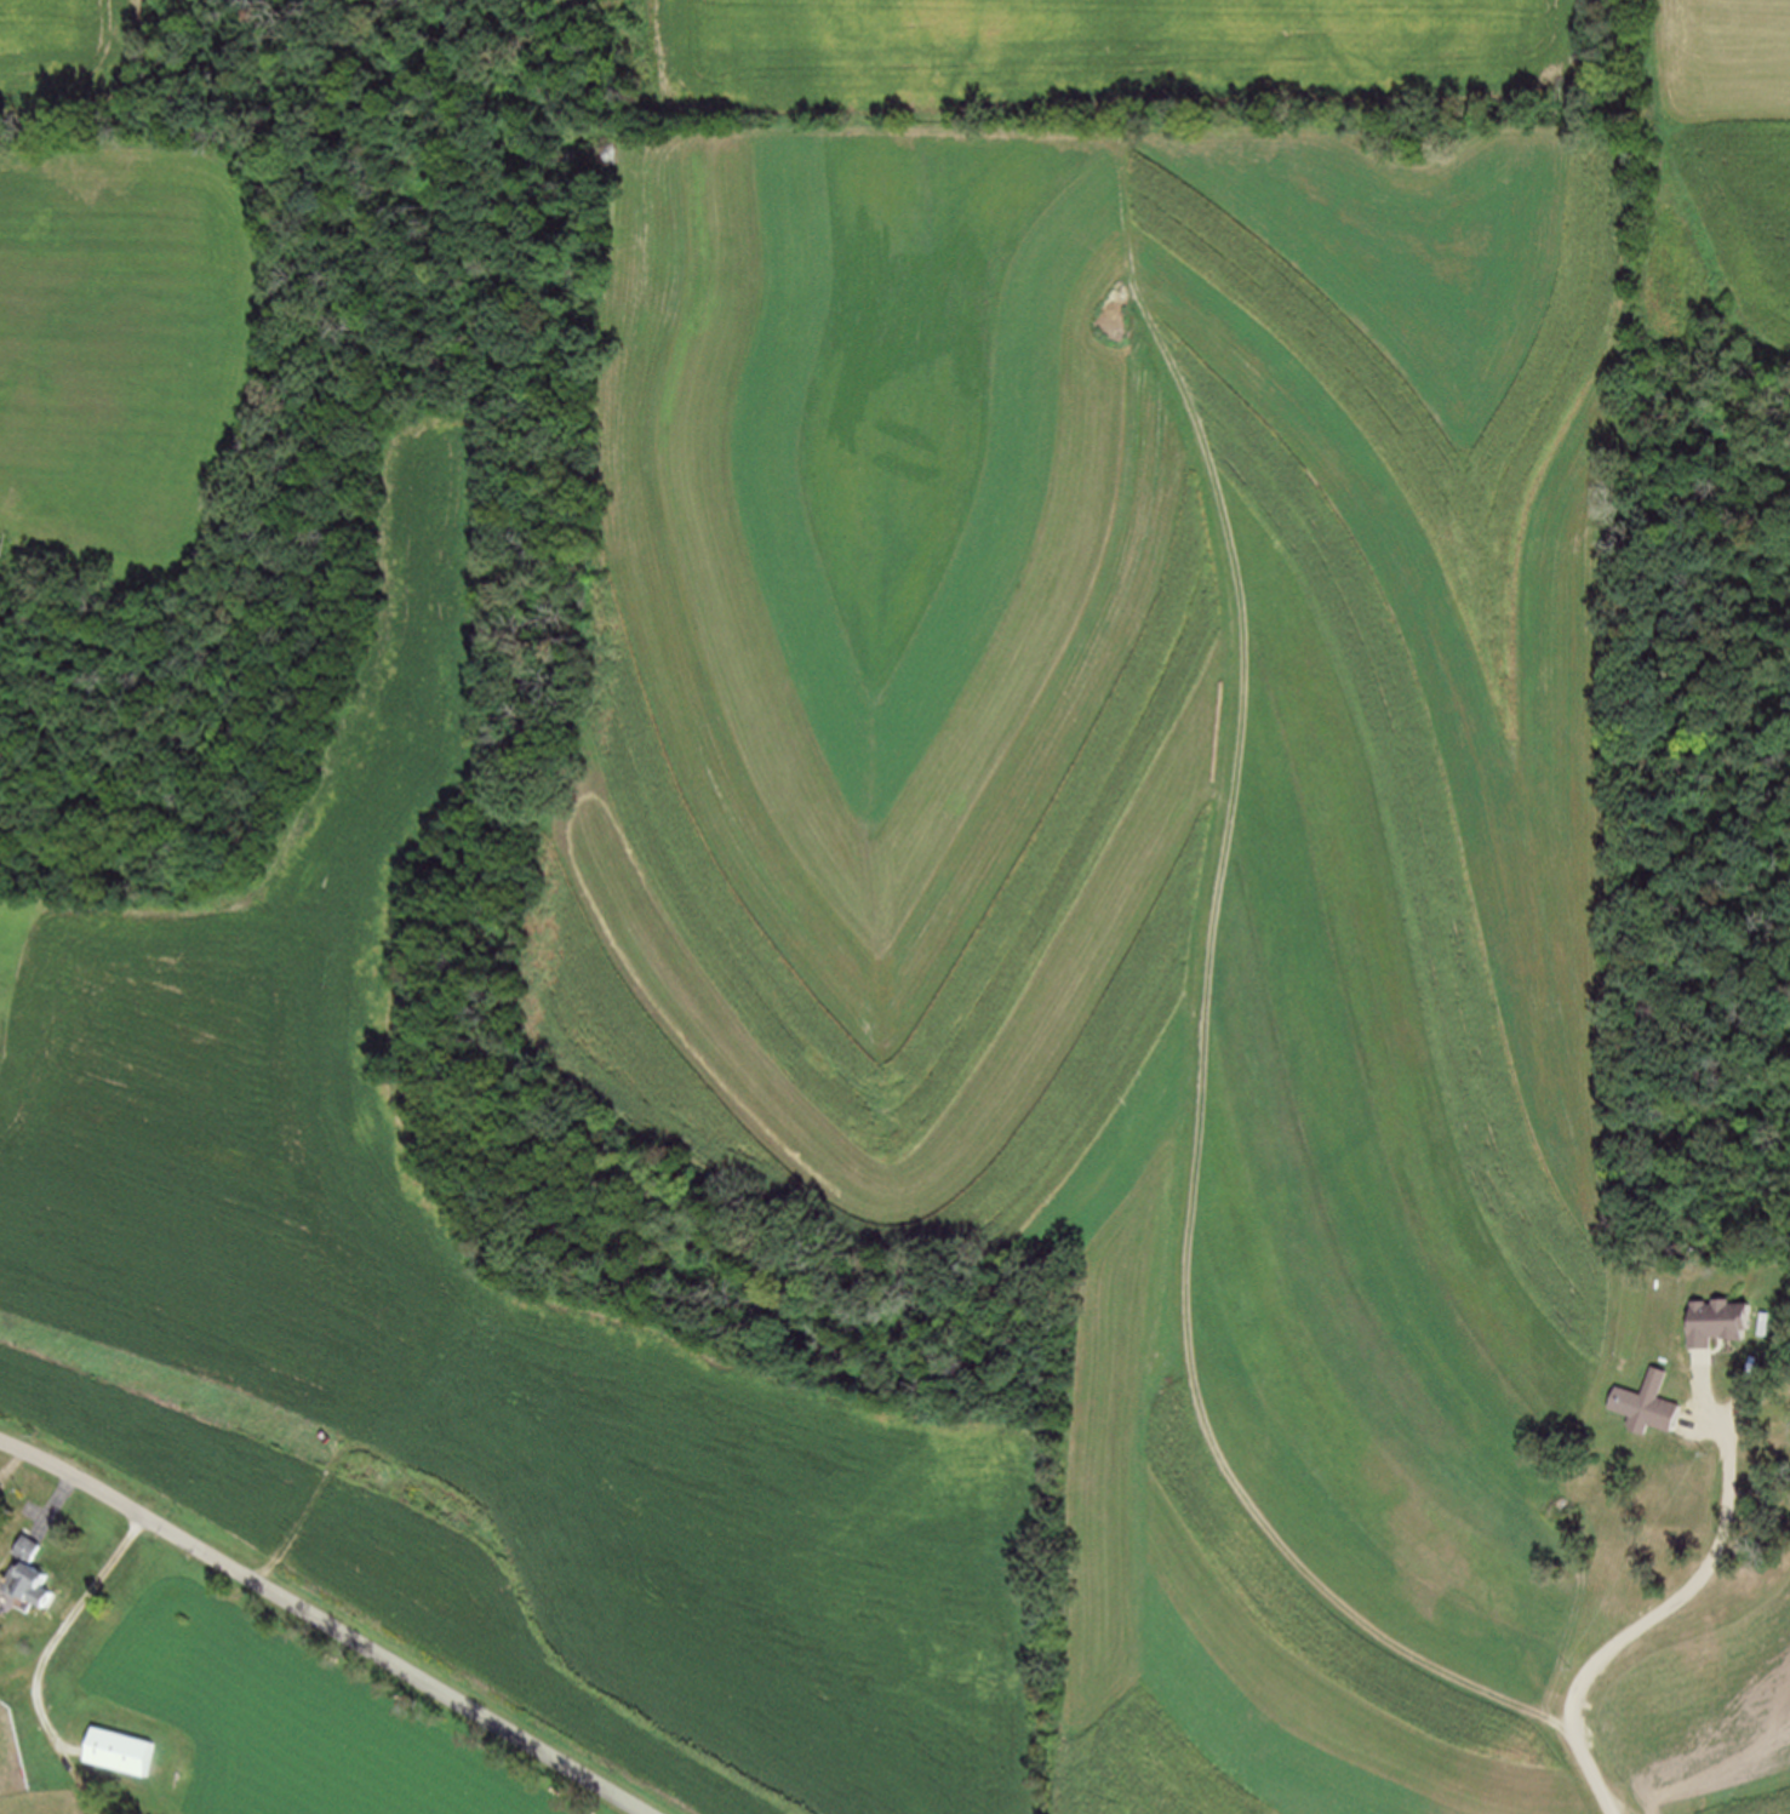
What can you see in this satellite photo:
building: (1712, 1321)
building: (1652, 1408)
building: (30, 1574)
road: (1675, 1602)
road: (322, 1623)
road: (55, 1635)
building: (1, 1690)
building: (119, 1749)
road: (1618, 1806)

